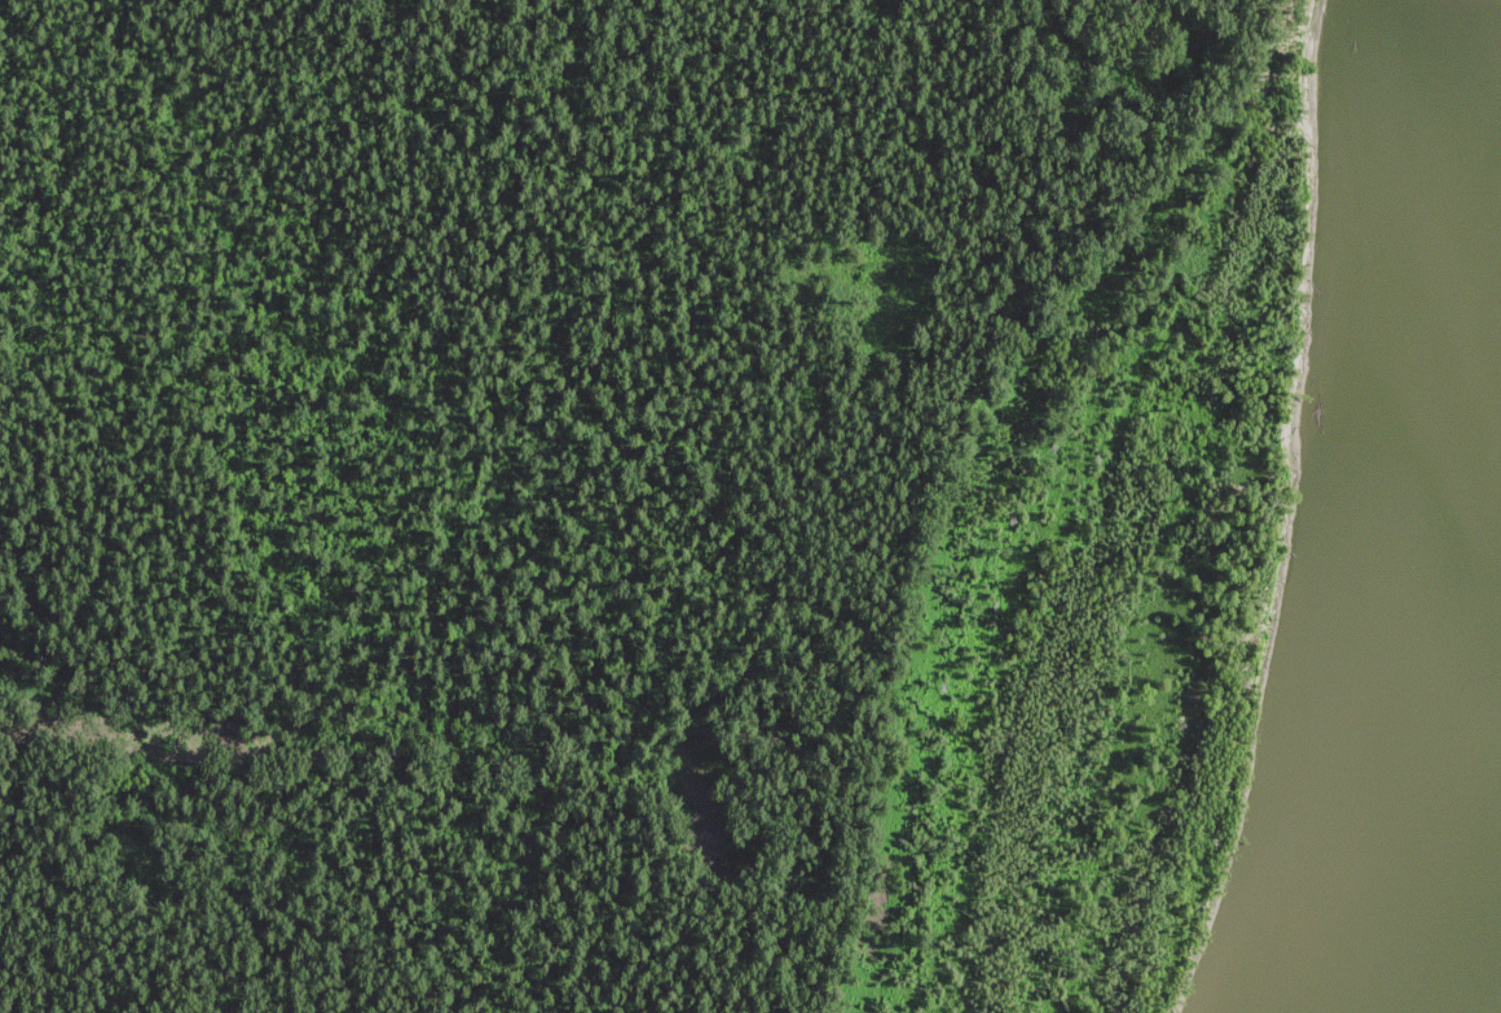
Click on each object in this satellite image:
river: (1385, 784)

